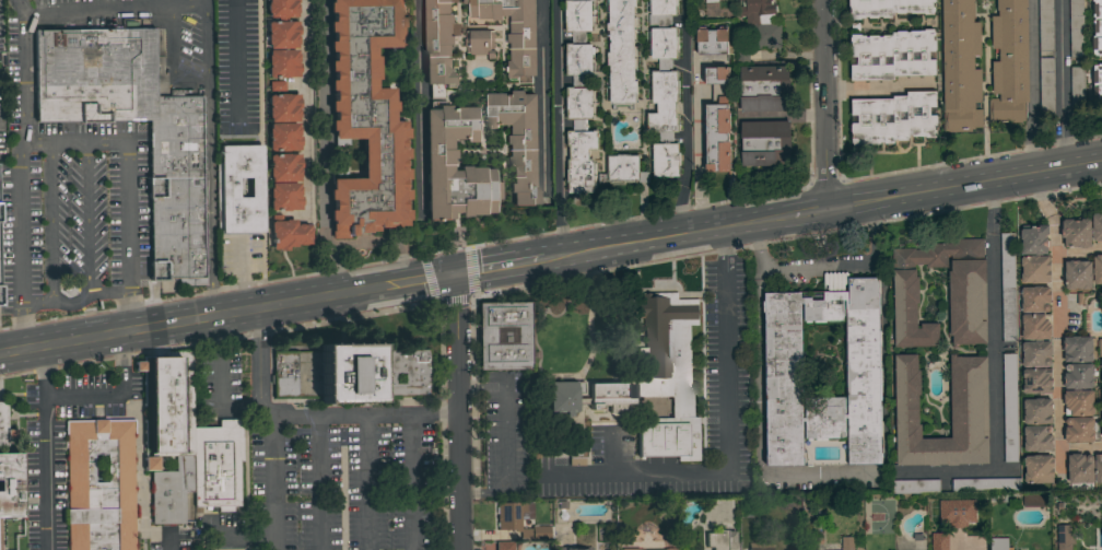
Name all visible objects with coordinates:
building: (710, 0)
building: (888, 8)
road: (112, 10)
building: (761, 22)
building: (282, 24)
building: (1076, 28)
building: (1097, 28)
building: (513, 31)
building: (712, 40)
building: (480, 43)
building: (438, 46)
building: (621, 52)
building: (742, 55)
building: (893, 55)
building: (1042, 55)
road: (169, 61)
building: (1010, 62)
road: (234, 65)
building: (282, 65)
building: (961, 66)
road: (22, 71)
building: (94, 74)
road: (1063, 84)
building: (1097, 84)
road: (877, 86)
building: (1077, 86)
road: (1031, 87)
building: (764, 89)
building: (664, 90)
road: (683, 92)
building: (176, 93)
building: (579, 97)
road: (555, 100)
road: (826, 105)
road: (303, 107)
building: (283, 108)
road: (420, 110)
building: (366, 118)
building: (893, 118)
building: (717, 122)
building: (283, 137)
building: (518, 140)
road: (71, 142)
building: (765, 143)
road: (321, 149)
road: (206, 159)
building: (439, 162)
building: (284, 167)
building: (623, 171)
road: (1048, 171)
building: (226, 187)
building: (177, 190)
road: (934, 191)
road: (1039, 195)
building: (284, 197)
road: (849, 206)
road: (993, 207)
road: (679, 209)
road: (804, 213)
building: (0, 215)
road: (126, 217)
road: (772, 219)
road: (85, 220)
road: (49, 222)
road: (19, 224)
building: (1097, 226)
road: (556, 229)
building: (288, 233)
building: (1077, 233)
road: (660, 238)
building: (1034, 239)
road: (384, 241)
road: (527, 262)
road: (821, 264)
building: (1035, 269)
road: (477, 271)
road: (761, 273)
building: (1082, 273)
traffic signals: (458, 274)
road: (239, 277)
road: (431, 279)
building: (1008, 286)
building: (968, 290)
road: (108, 292)
road: (330, 295)
building: (0, 296)
building: (1035, 300)
road: (70, 303)
road: (34, 304)
road: (128, 312)
road: (192, 320)
road: (155, 326)
building: (1035, 327)
road: (21, 328)
building: (503, 336)
road: (85, 339)
road: (33, 348)
building: (1100, 348)
building: (1077, 349)
road: (12, 351)
road: (1056, 351)
building: (1036, 354)
building: (1100, 363)
building: (348, 374)
building: (667, 376)
building: (1078, 376)
building: (1036, 382)
building: (784, 383)
building: (1101, 385)
road: (482, 386)
road: (113, 391)
building: (589, 397)
road: (995, 400)
building: (1078, 402)
road: (220, 403)
building: (1009, 408)
building: (969, 409)
building: (1037, 411)
road: (460, 412)
road: (364, 414)
building: (1101, 425)
building: (4, 426)
road: (270, 429)
building: (1079, 430)
building: (165, 432)
road: (762, 434)
building: (1037, 438)
road: (725, 441)
road: (45, 447)
road: (608, 450)
building: (575, 454)
road: (505, 460)
parking lot: (326, 467)
building: (215, 468)
building: (1085, 468)
building: (1039, 469)
road: (413, 480)
road: (318, 482)
road: (366, 482)
building: (99, 484)
building: (9, 485)
building: (986, 485)
building: (915, 487)
building: (1035, 500)
building: (745, 505)
building: (957, 512)
building: (508, 523)
building: (1065, 537)
building: (720, 540)
building: (940, 541)
road: (168, 542)
building: (847, 543)
building: (999, 545)
building: (504, 546)
building: (760, 546)
building: (576, 548)
building: (630, 549)
building: (650, 549)
building: (669, 549)

